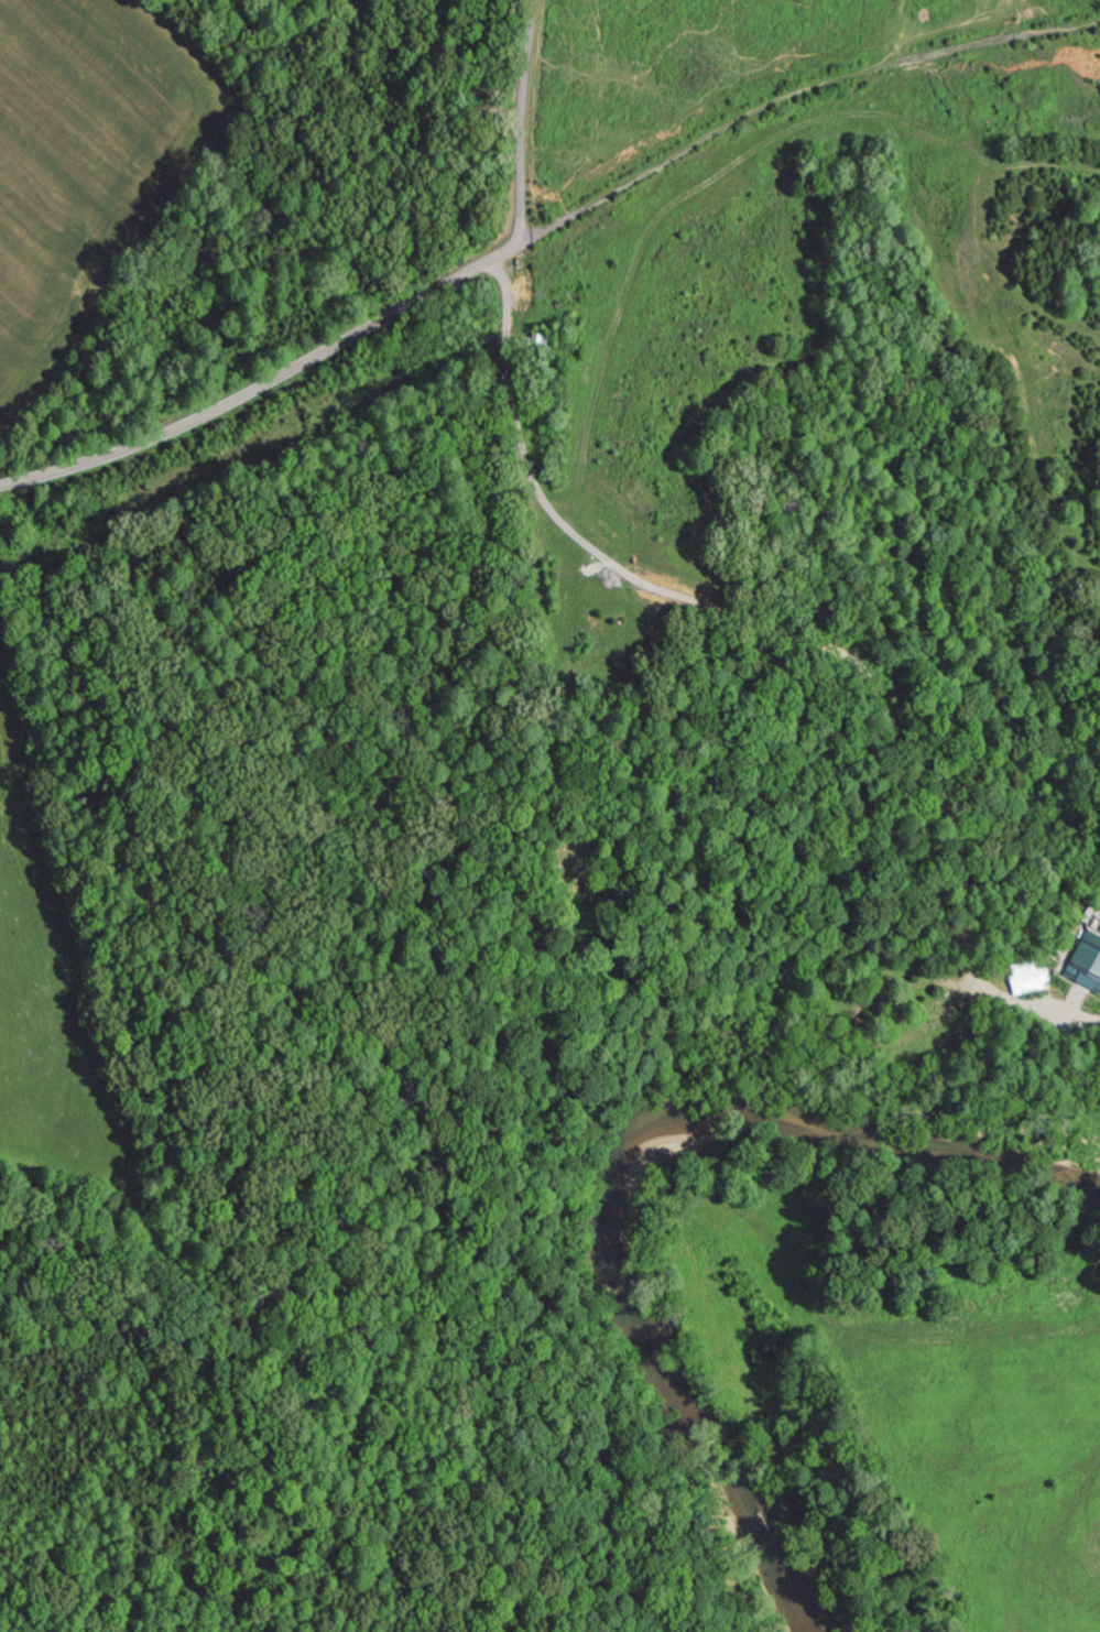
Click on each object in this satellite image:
road: (798, 98)
road: (523, 121)
road: (519, 350)
road: (270, 383)
building: (1086, 961)

